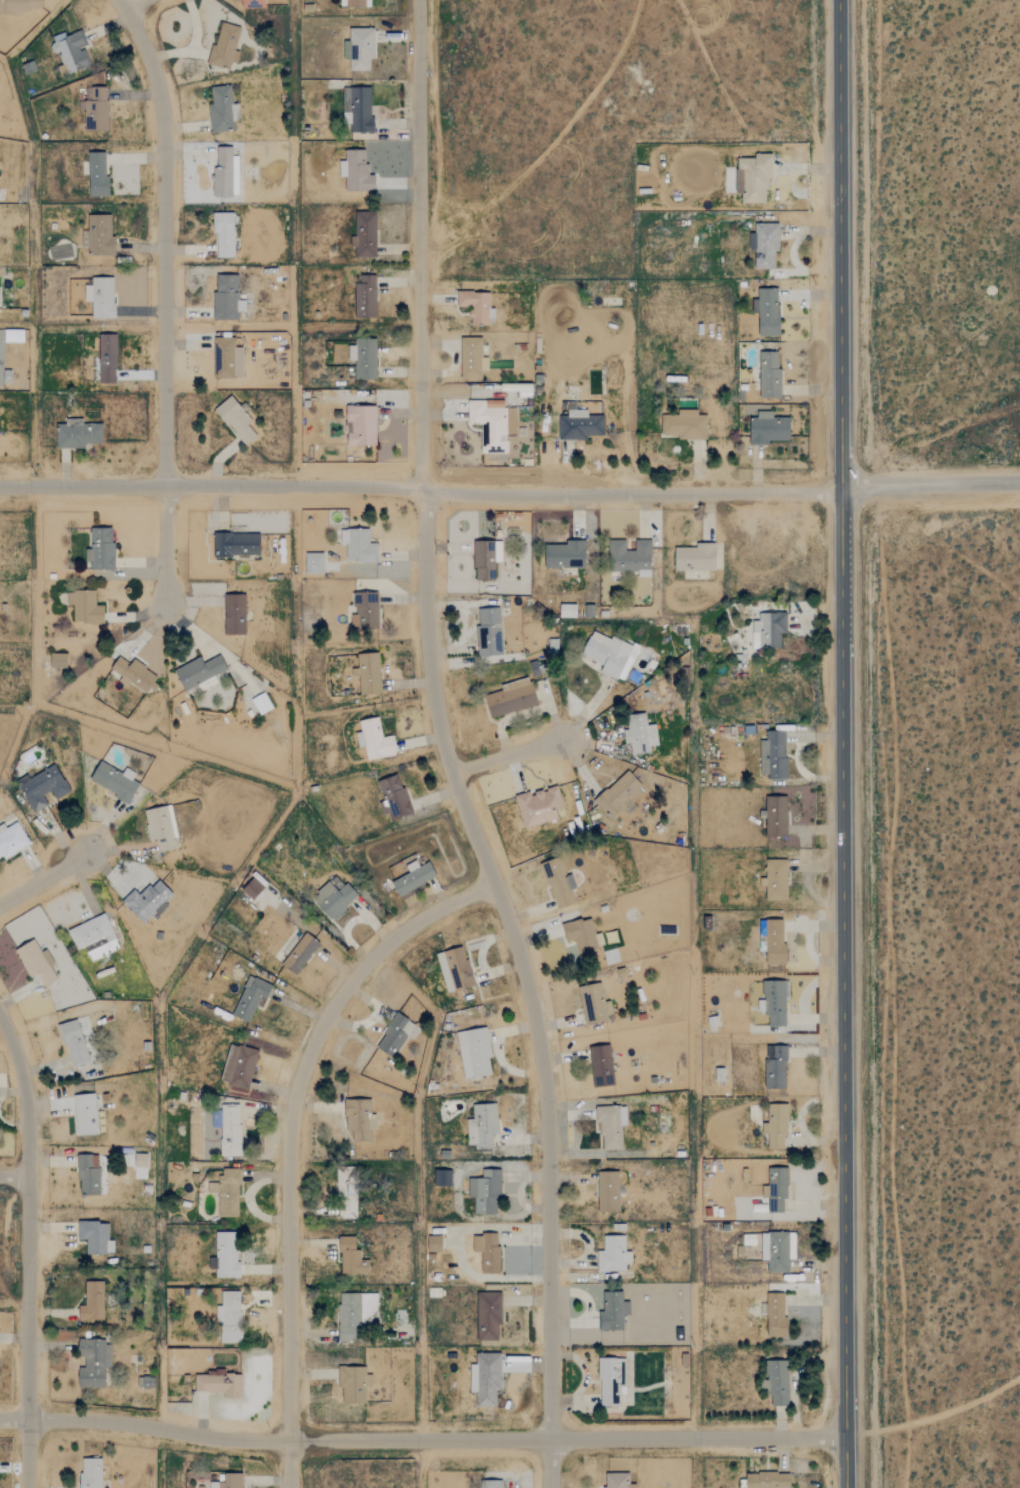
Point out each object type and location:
road: (129, 0)
building: (253, 3)
building: (18, 6)
building: (224, 46)
building: (359, 49)
building: (96, 109)
building: (222, 110)
building: (360, 110)
building: (356, 172)
building: (97, 174)
building: (225, 174)
building: (753, 179)
building: (365, 234)
building: (223, 235)
building: (100, 236)
building: (764, 245)
building: (101, 297)
building: (365, 297)
building: (226, 298)
road: (160, 299)
building: (476, 306)
building: (767, 312)
building: (13, 336)
building: (363, 358)
building: (105, 359)
building: (227, 359)
building: (472, 359)
building: (769, 375)
building: (236, 419)
building: (579, 425)
building: (684, 425)
building: (361, 426)
building: (768, 429)
building: (77, 434)
road: (952, 435)
road: (510, 493)
building: (236, 545)
building: (358, 546)
road: (953, 549)
building: (100, 550)
building: (565, 555)
building: (696, 558)
building: (630, 559)
building: (486, 560)
building: (314, 564)
building: (85, 608)
building: (365, 611)
building: (234, 615)
building: (769, 630)
building: (489, 632)
building: (610, 655)
building: (58, 661)
building: (369, 674)
building: (134, 675)
building: (510, 699)
building: (261, 704)
building: (640, 735)
building: (374, 740)
road: (841, 743)
road: (448, 750)
road: (507, 753)
building: (773, 755)
building: (114, 780)
building: (43, 787)
building: (619, 796)
building: (393, 798)
building: (539, 807)
building: (776, 817)
building: (161, 827)
building: (12, 840)
building: (413, 877)
building: (776, 880)
road: (42, 882)
building: (558, 883)
building: (253, 886)
building: (334, 896)
building: (148, 900)
building: (91, 932)
building: (582, 935)
building: (775, 941)
building: (300, 953)
building: (36, 962)
building: (455, 969)
building: (250, 997)
building: (775, 1003)
building: (593, 1004)
building: (394, 1034)
building: (74, 1043)
road: (4, 1046)
building: (474, 1053)
building: (239, 1066)
building: (601, 1066)
building: (775, 1067)
building: (85, 1114)
building: (359, 1120)
building: (482, 1126)
building: (776, 1126)
building: (611, 1127)
building: (228, 1128)
road: (293, 1142)
building: (140, 1166)
building: (88, 1174)
road: (13, 1177)
building: (442, 1178)
building: (777, 1188)
building: (485, 1191)
building: (607, 1191)
building: (226, 1192)
building: (349, 1200)
building: (95, 1237)
building: (434, 1243)
building: (777, 1250)
road: (24, 1251)
building: (487, 1252)
building: (226, 1254)
building: (613, 1254)
building: (351, 1257)
building: (92, 1302)
road: (11, 1305)
building: (610, 1309)
building: (355, 1313)
building: (488, 1315)
building: (776, 1315)
building: (229, 1317)
building: (93, 1362)
building: (485, 1378)
building: (611, 1381)
building: (145, 1382)
building: (778, 1383)
building: (353, 1384)
road: (421, 1439)
building: (91, 1473)
building: (616, 1480)
building: (768, 1480)
building: (228, 1481)
building: (491, 1484)

